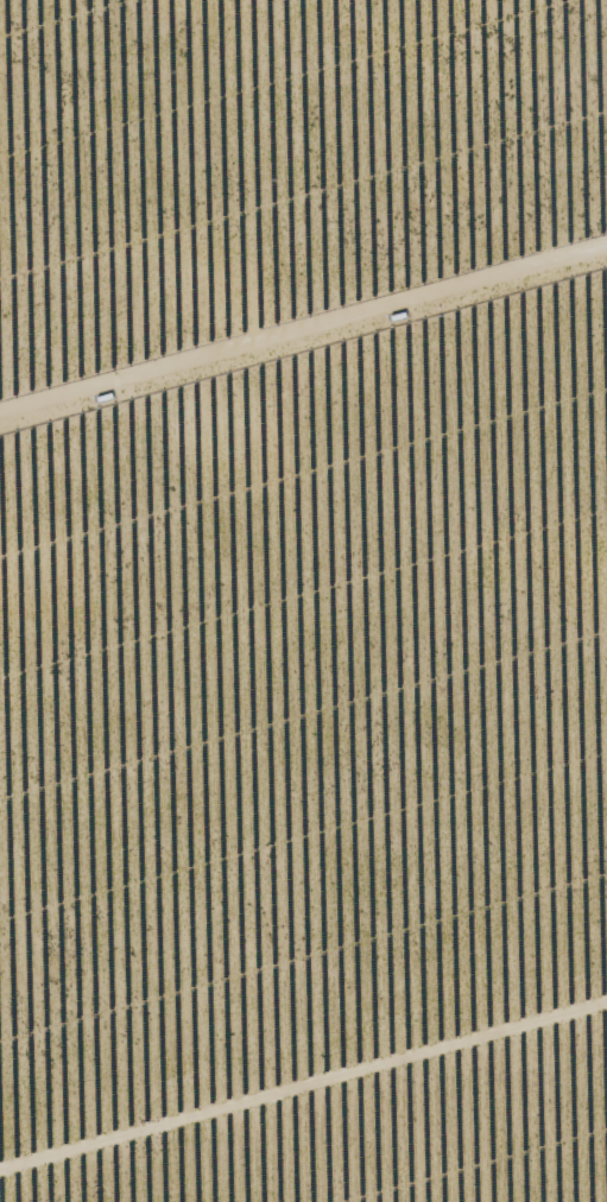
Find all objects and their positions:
solar farm: (303, 601)

